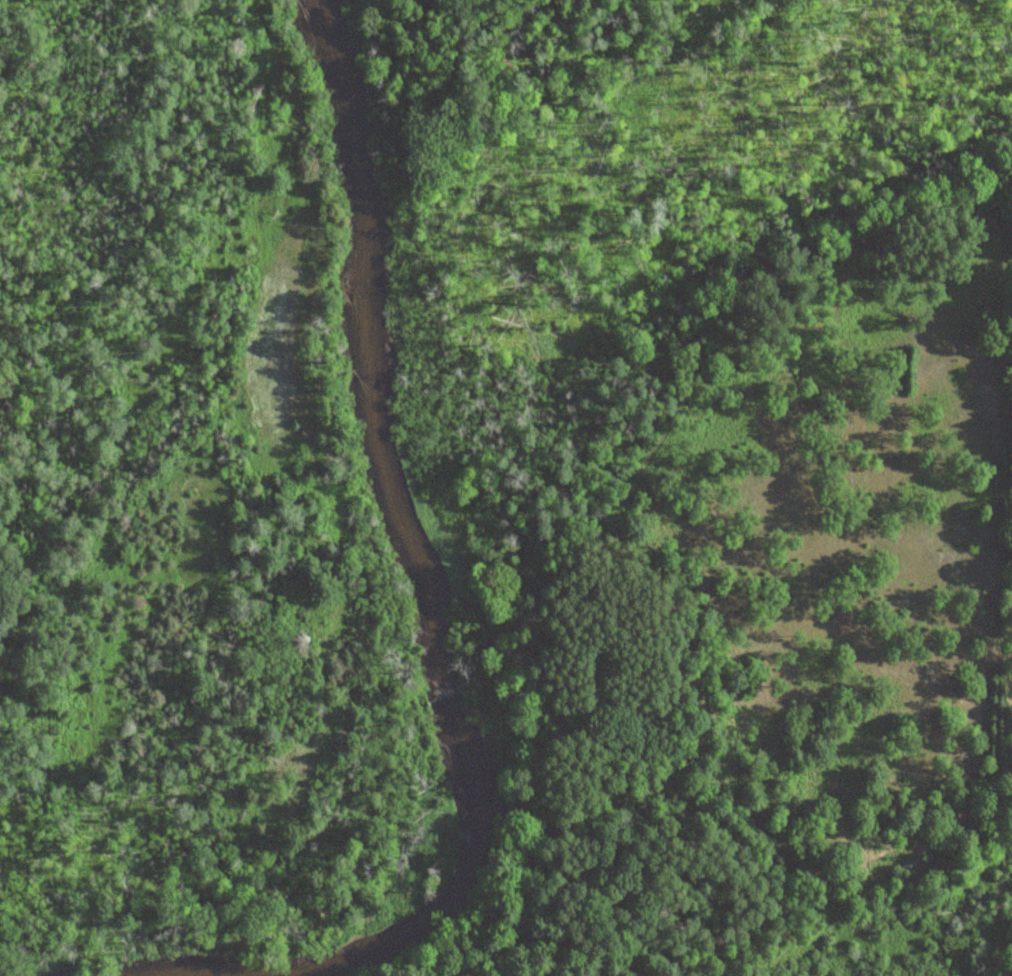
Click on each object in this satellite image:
river: (401, 525)

